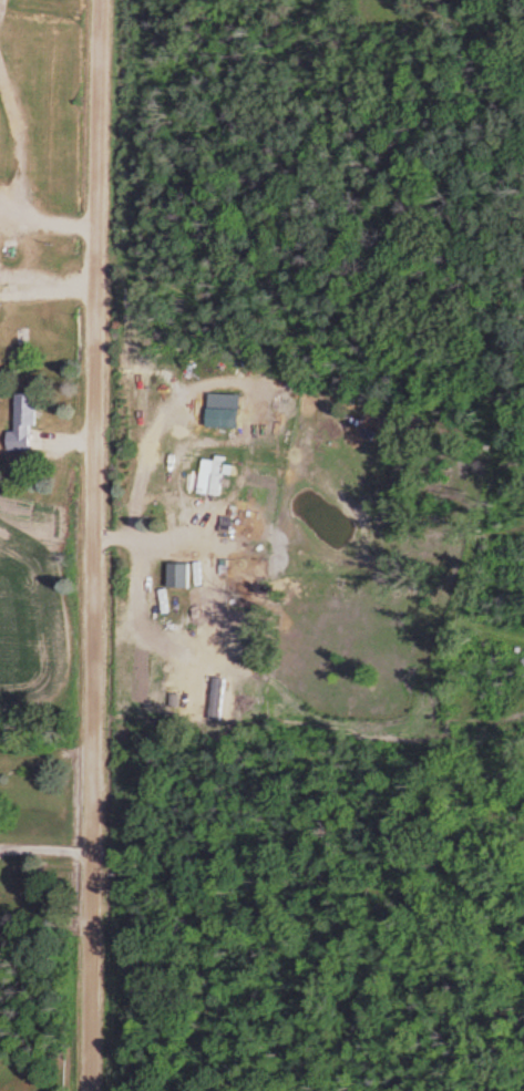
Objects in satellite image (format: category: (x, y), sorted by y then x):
building: (6, 280)
building: (214, 415)
building: (17, 422)
building: (205, 473)
road: (101, 545)
building: (209, 572)
road: (48, 851)

